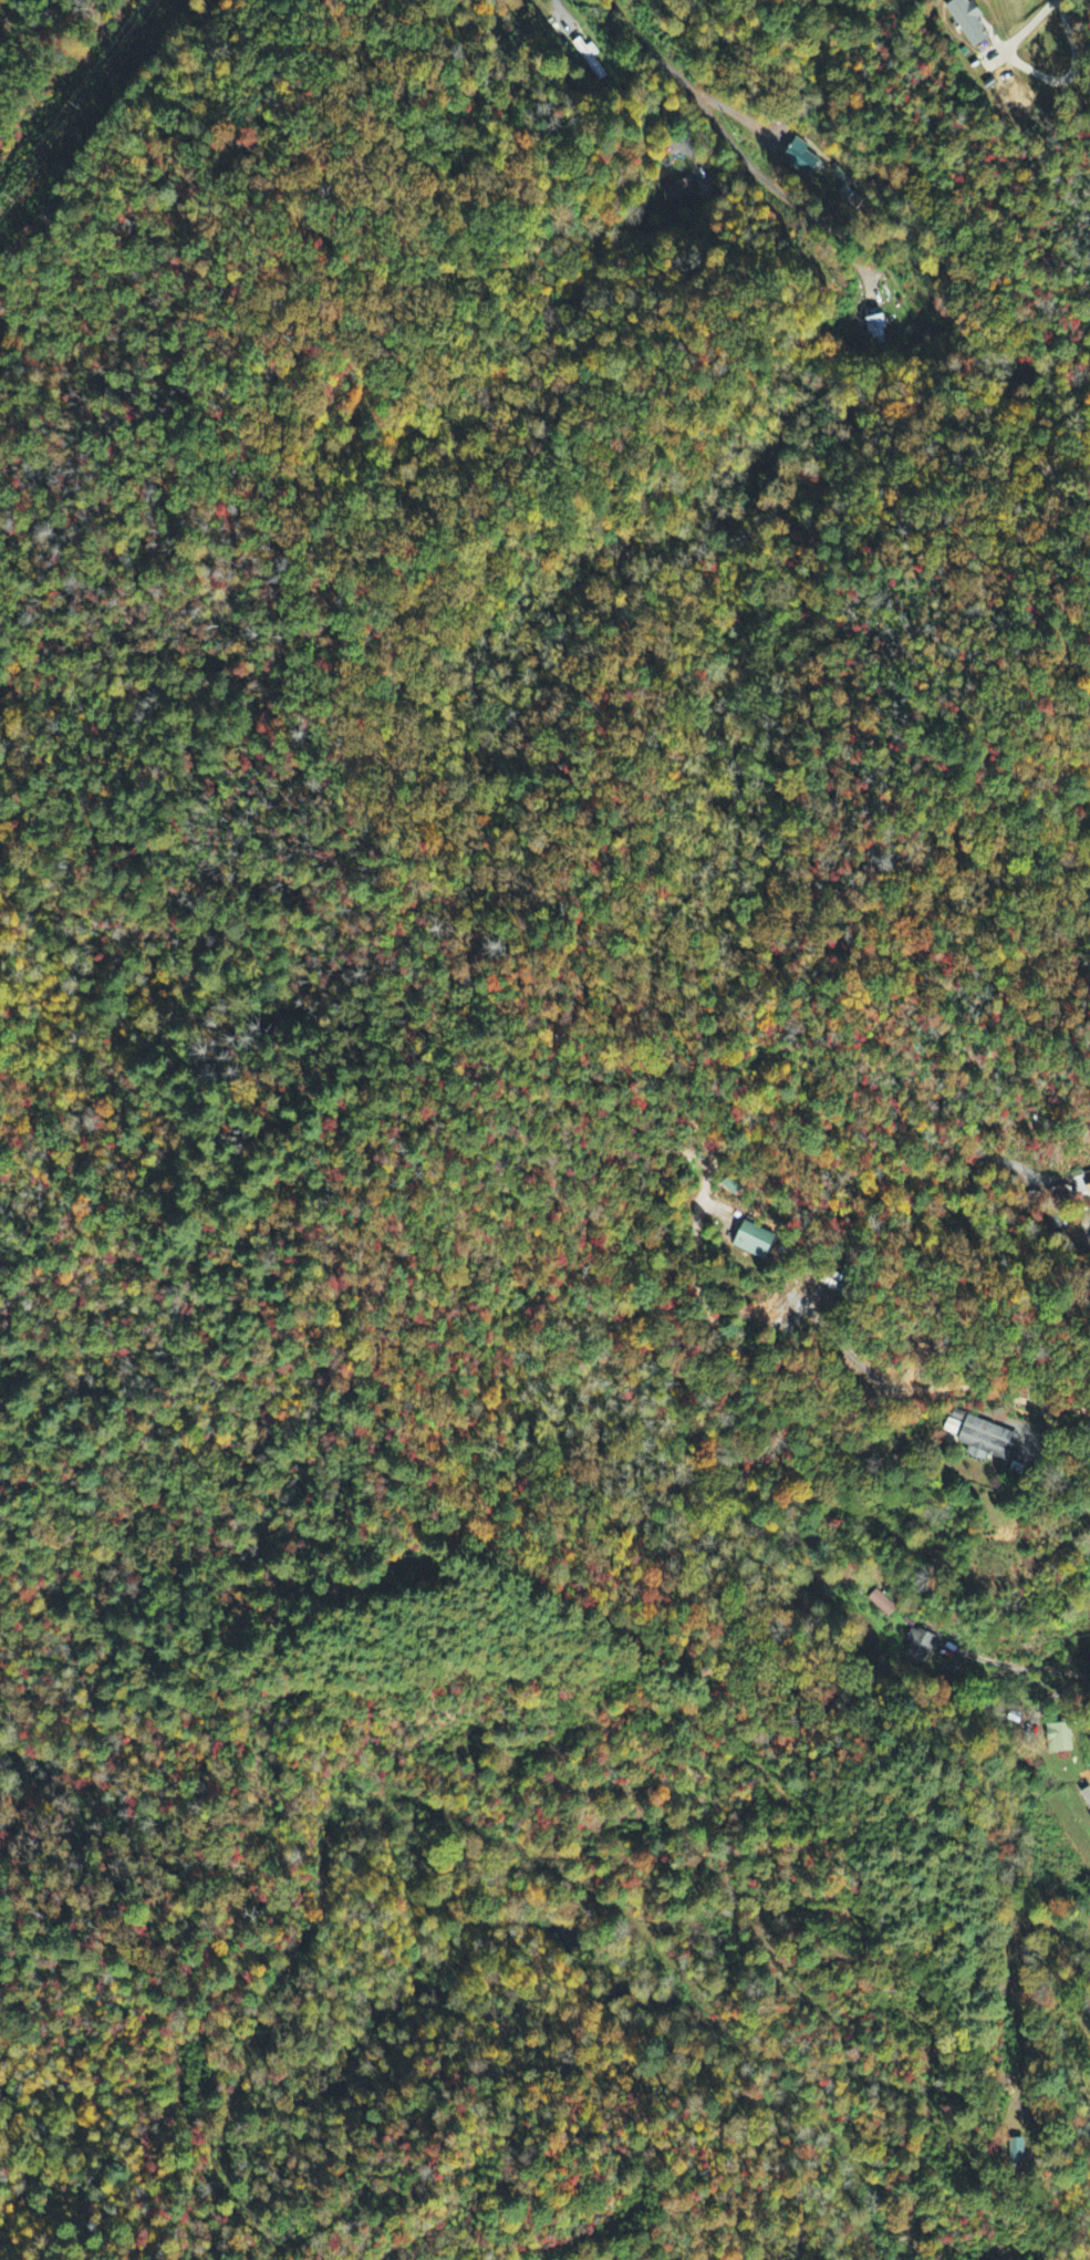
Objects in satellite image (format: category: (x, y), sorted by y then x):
building: (972, 22)
building: (590, 59)
power tower: (84, 104)
road: (731, 146)
building: (801, 157)
building: (681, 194)
building: (876, 328)
building: (1081, 1184)
road: (1089, 1237)
building: (756, 1241)
road: (1087, 1242)
road: (833, 1373)
building: (987, 1441)
building: (882, 1604)
building: (921, 1647)
building: (1060, 1739)

